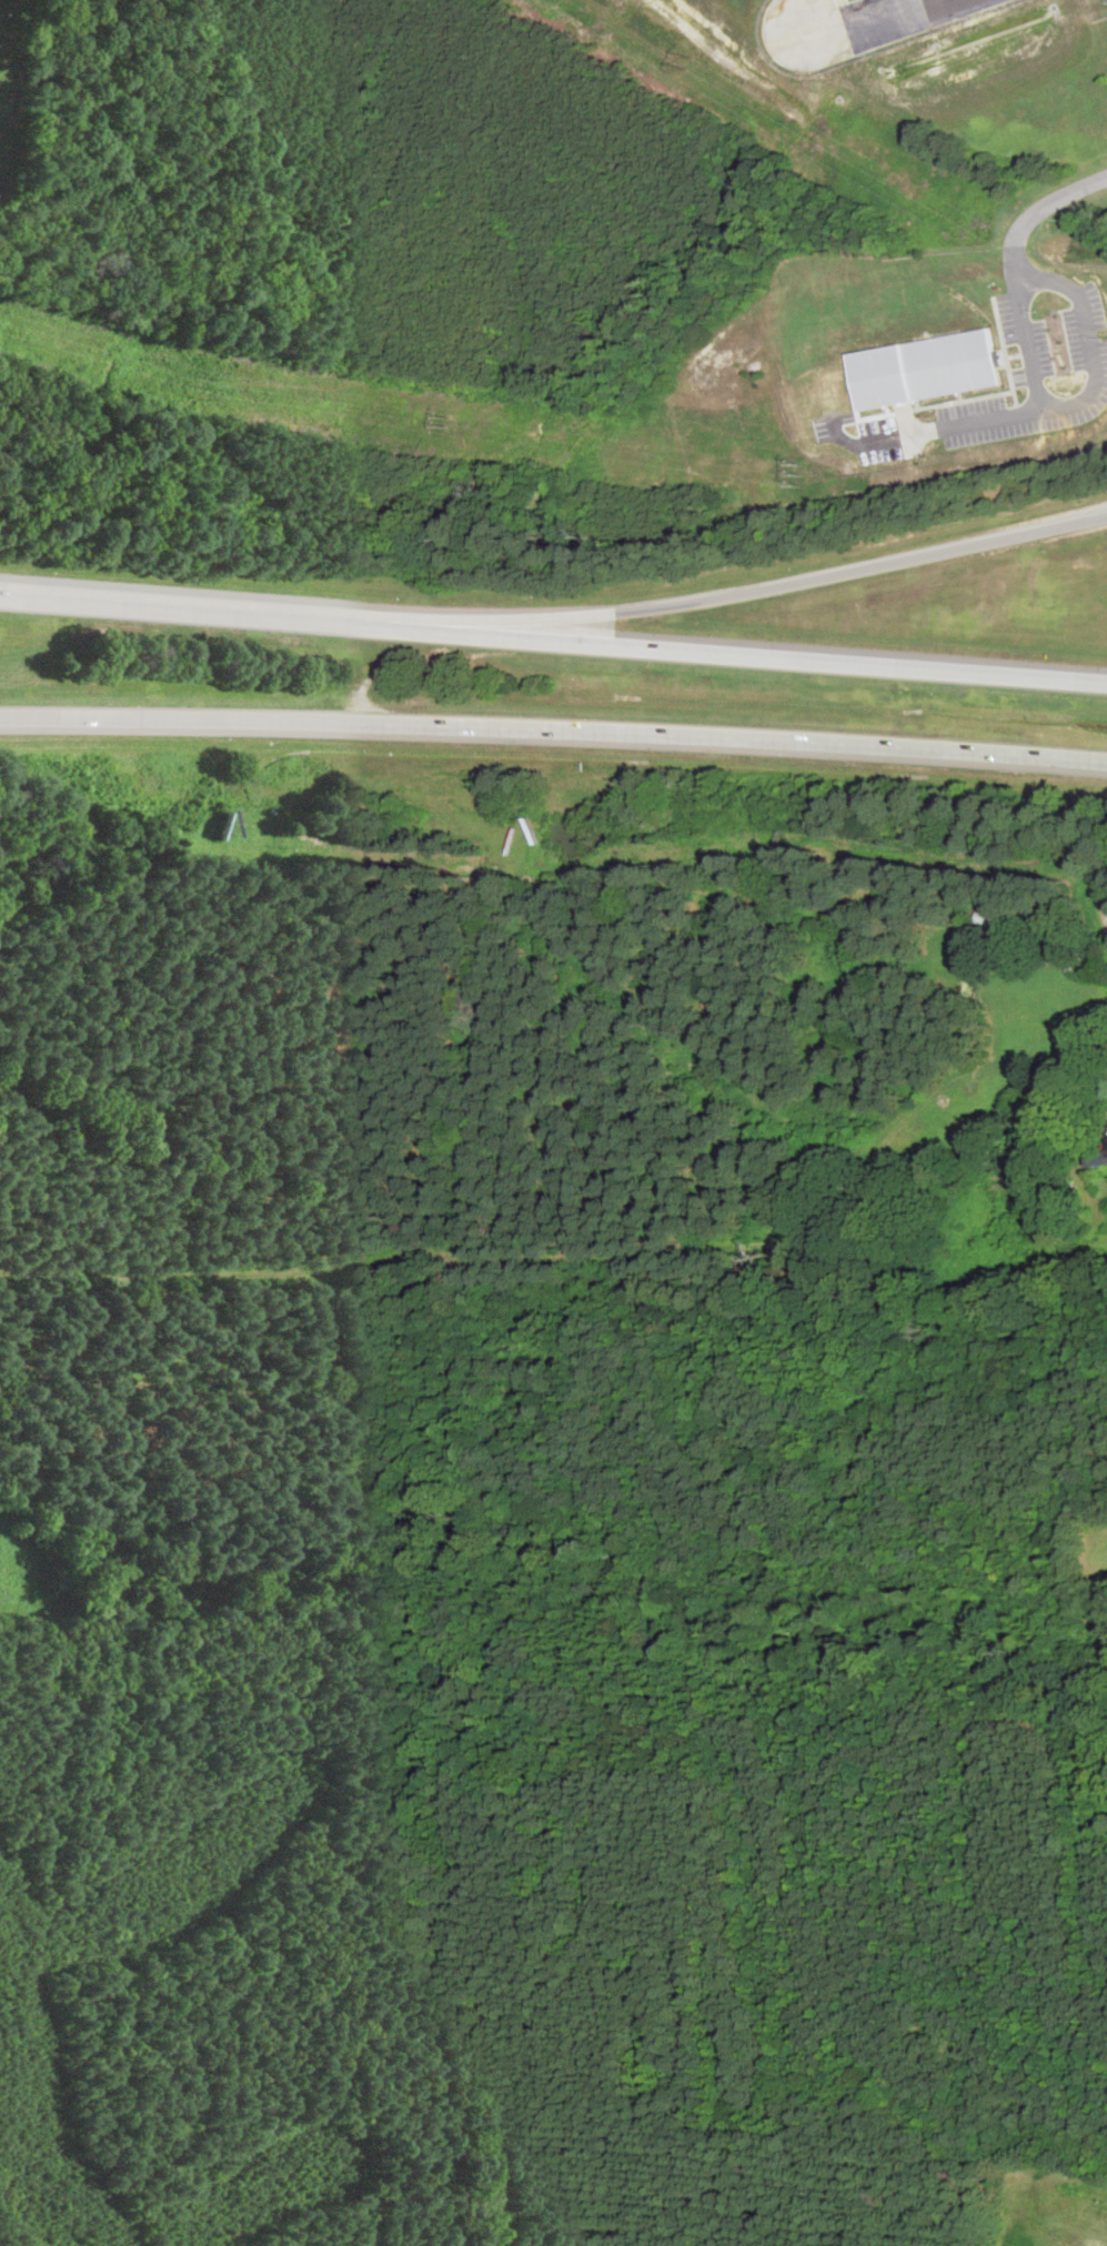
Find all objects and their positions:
road: (882, 17)
road: (1055, 201)
road: (1025, 324)
building: (925, 369)
parking lot: (1037, 373)
power tower: (211, 394)
road: (1080, 397)
power tower: (450, 426)
power tower: (794, 473)
road: (746, 594)
road: (553, 638)
road: (417, 663)
road: (553, 728)
building: (1067, 903)
building: (988, 919)
building: (1076, 964)

